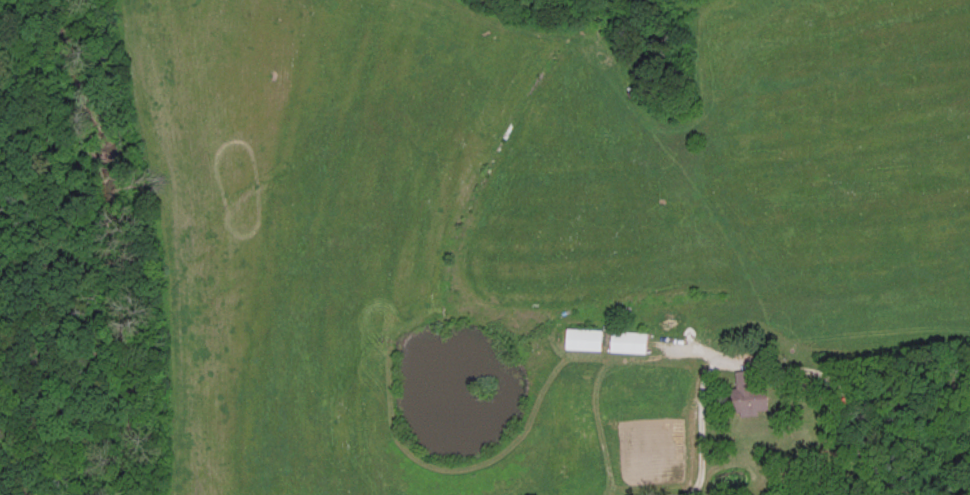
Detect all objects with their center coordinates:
park: (41, 304)
building: (584, 337)
building: (628, 340)
road: (760, 362)
building: (751, 391)
road: (597, 428)

